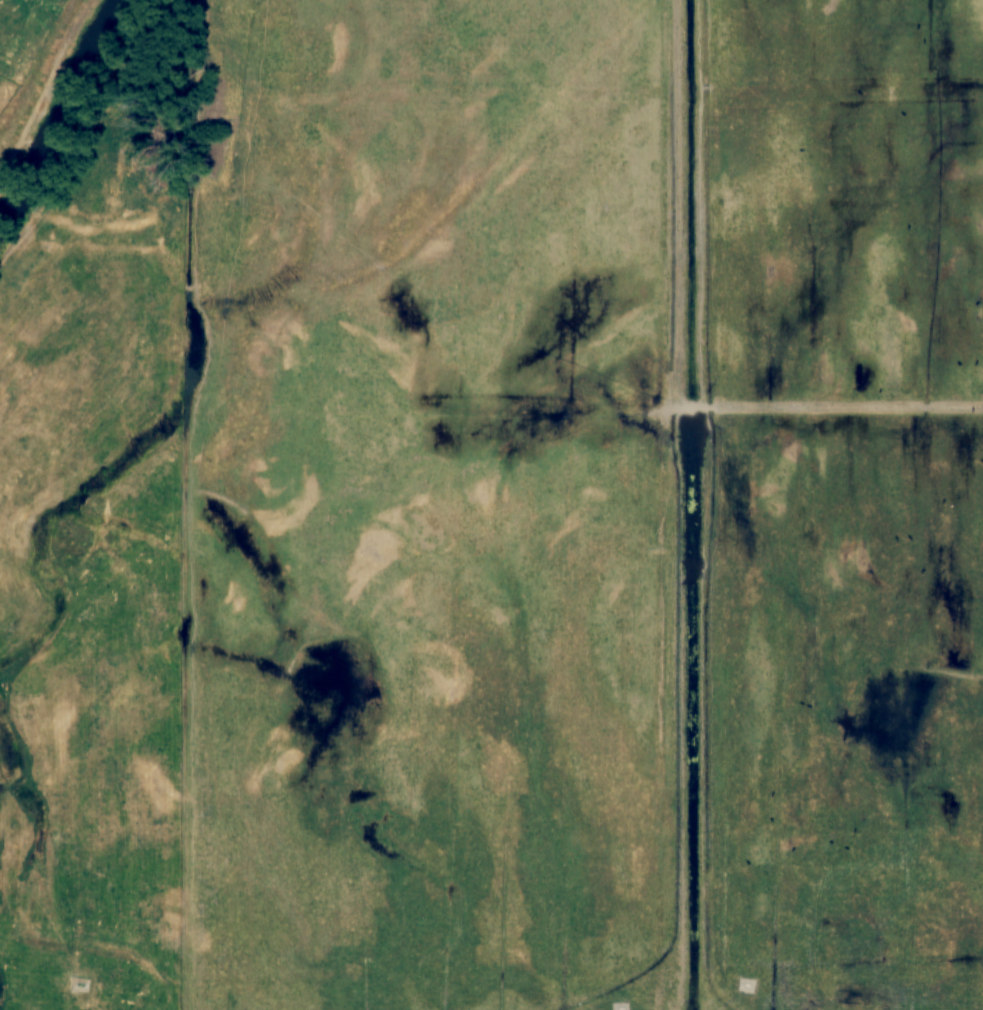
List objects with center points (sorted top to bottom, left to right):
river: (64, 110)

